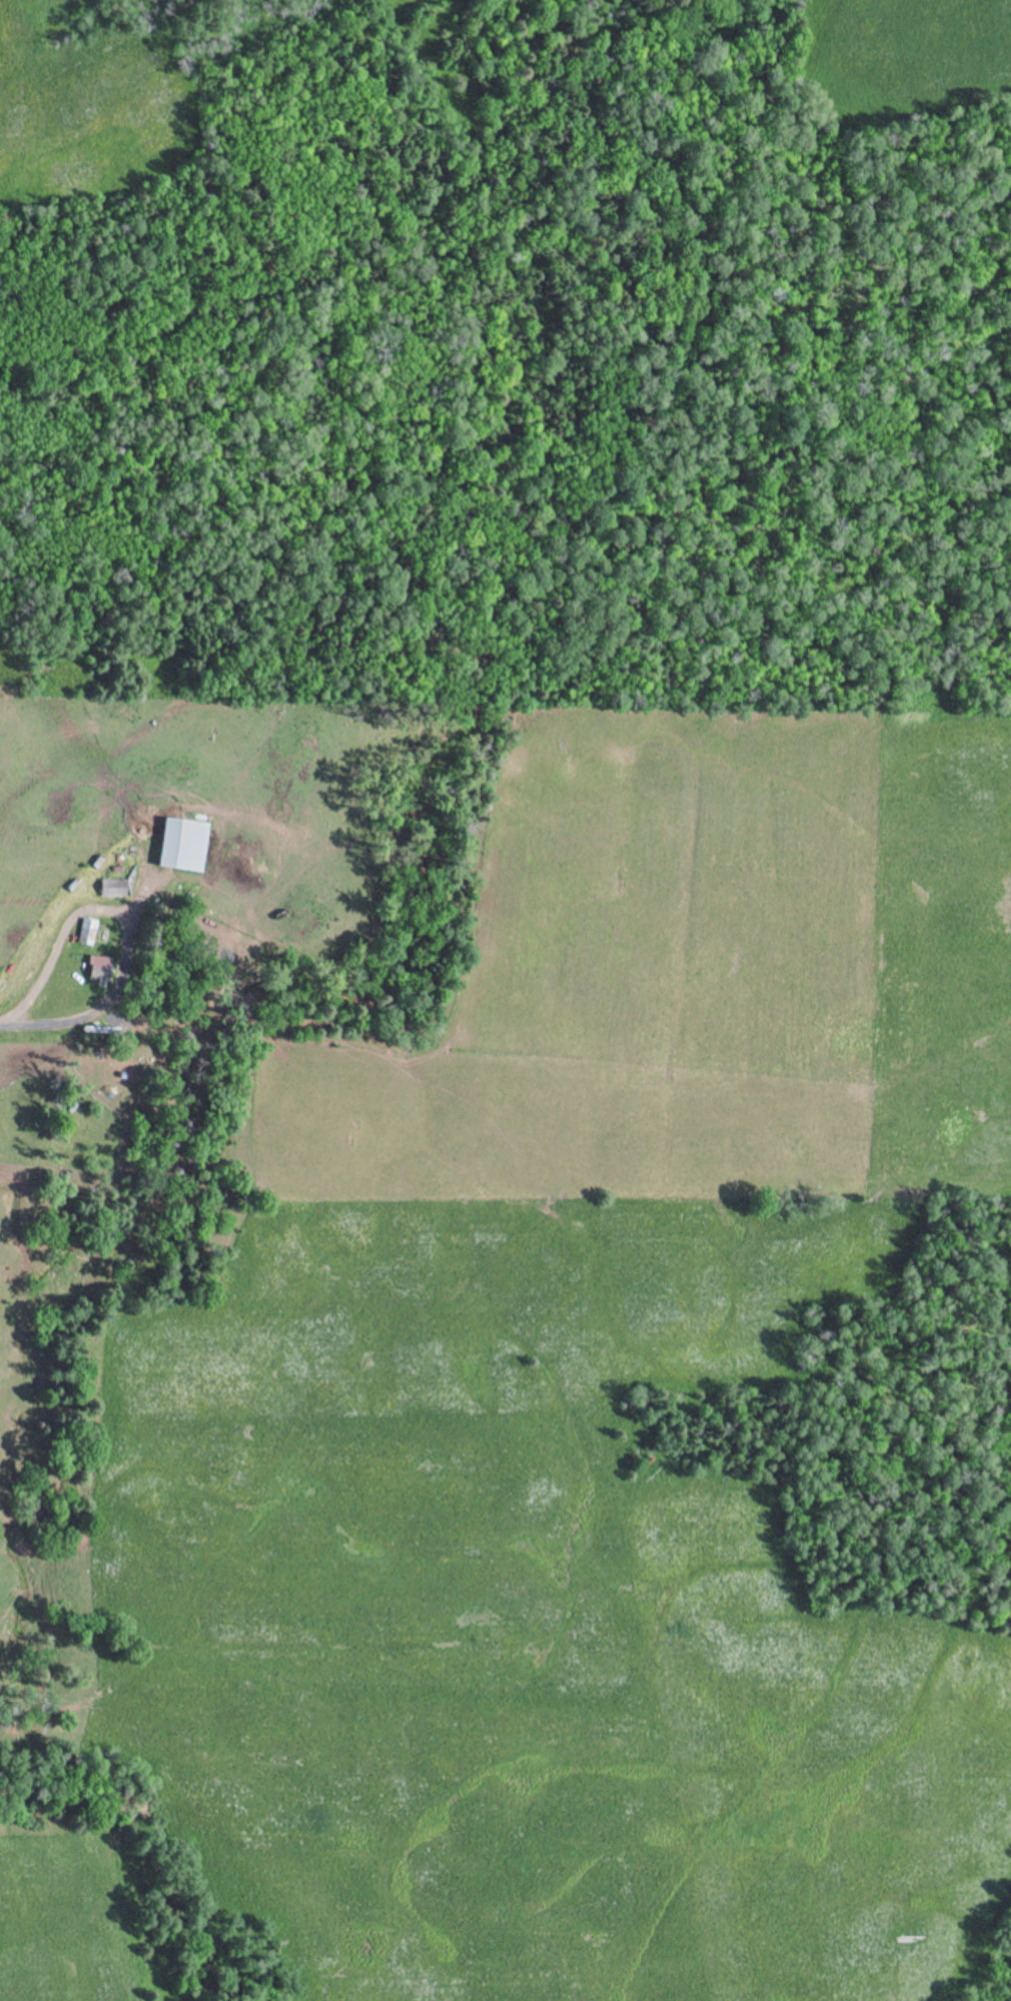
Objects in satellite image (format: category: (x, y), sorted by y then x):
building: (184, 846)
building: (114, 888)
building: (87, 933)
building: (100, 970)

